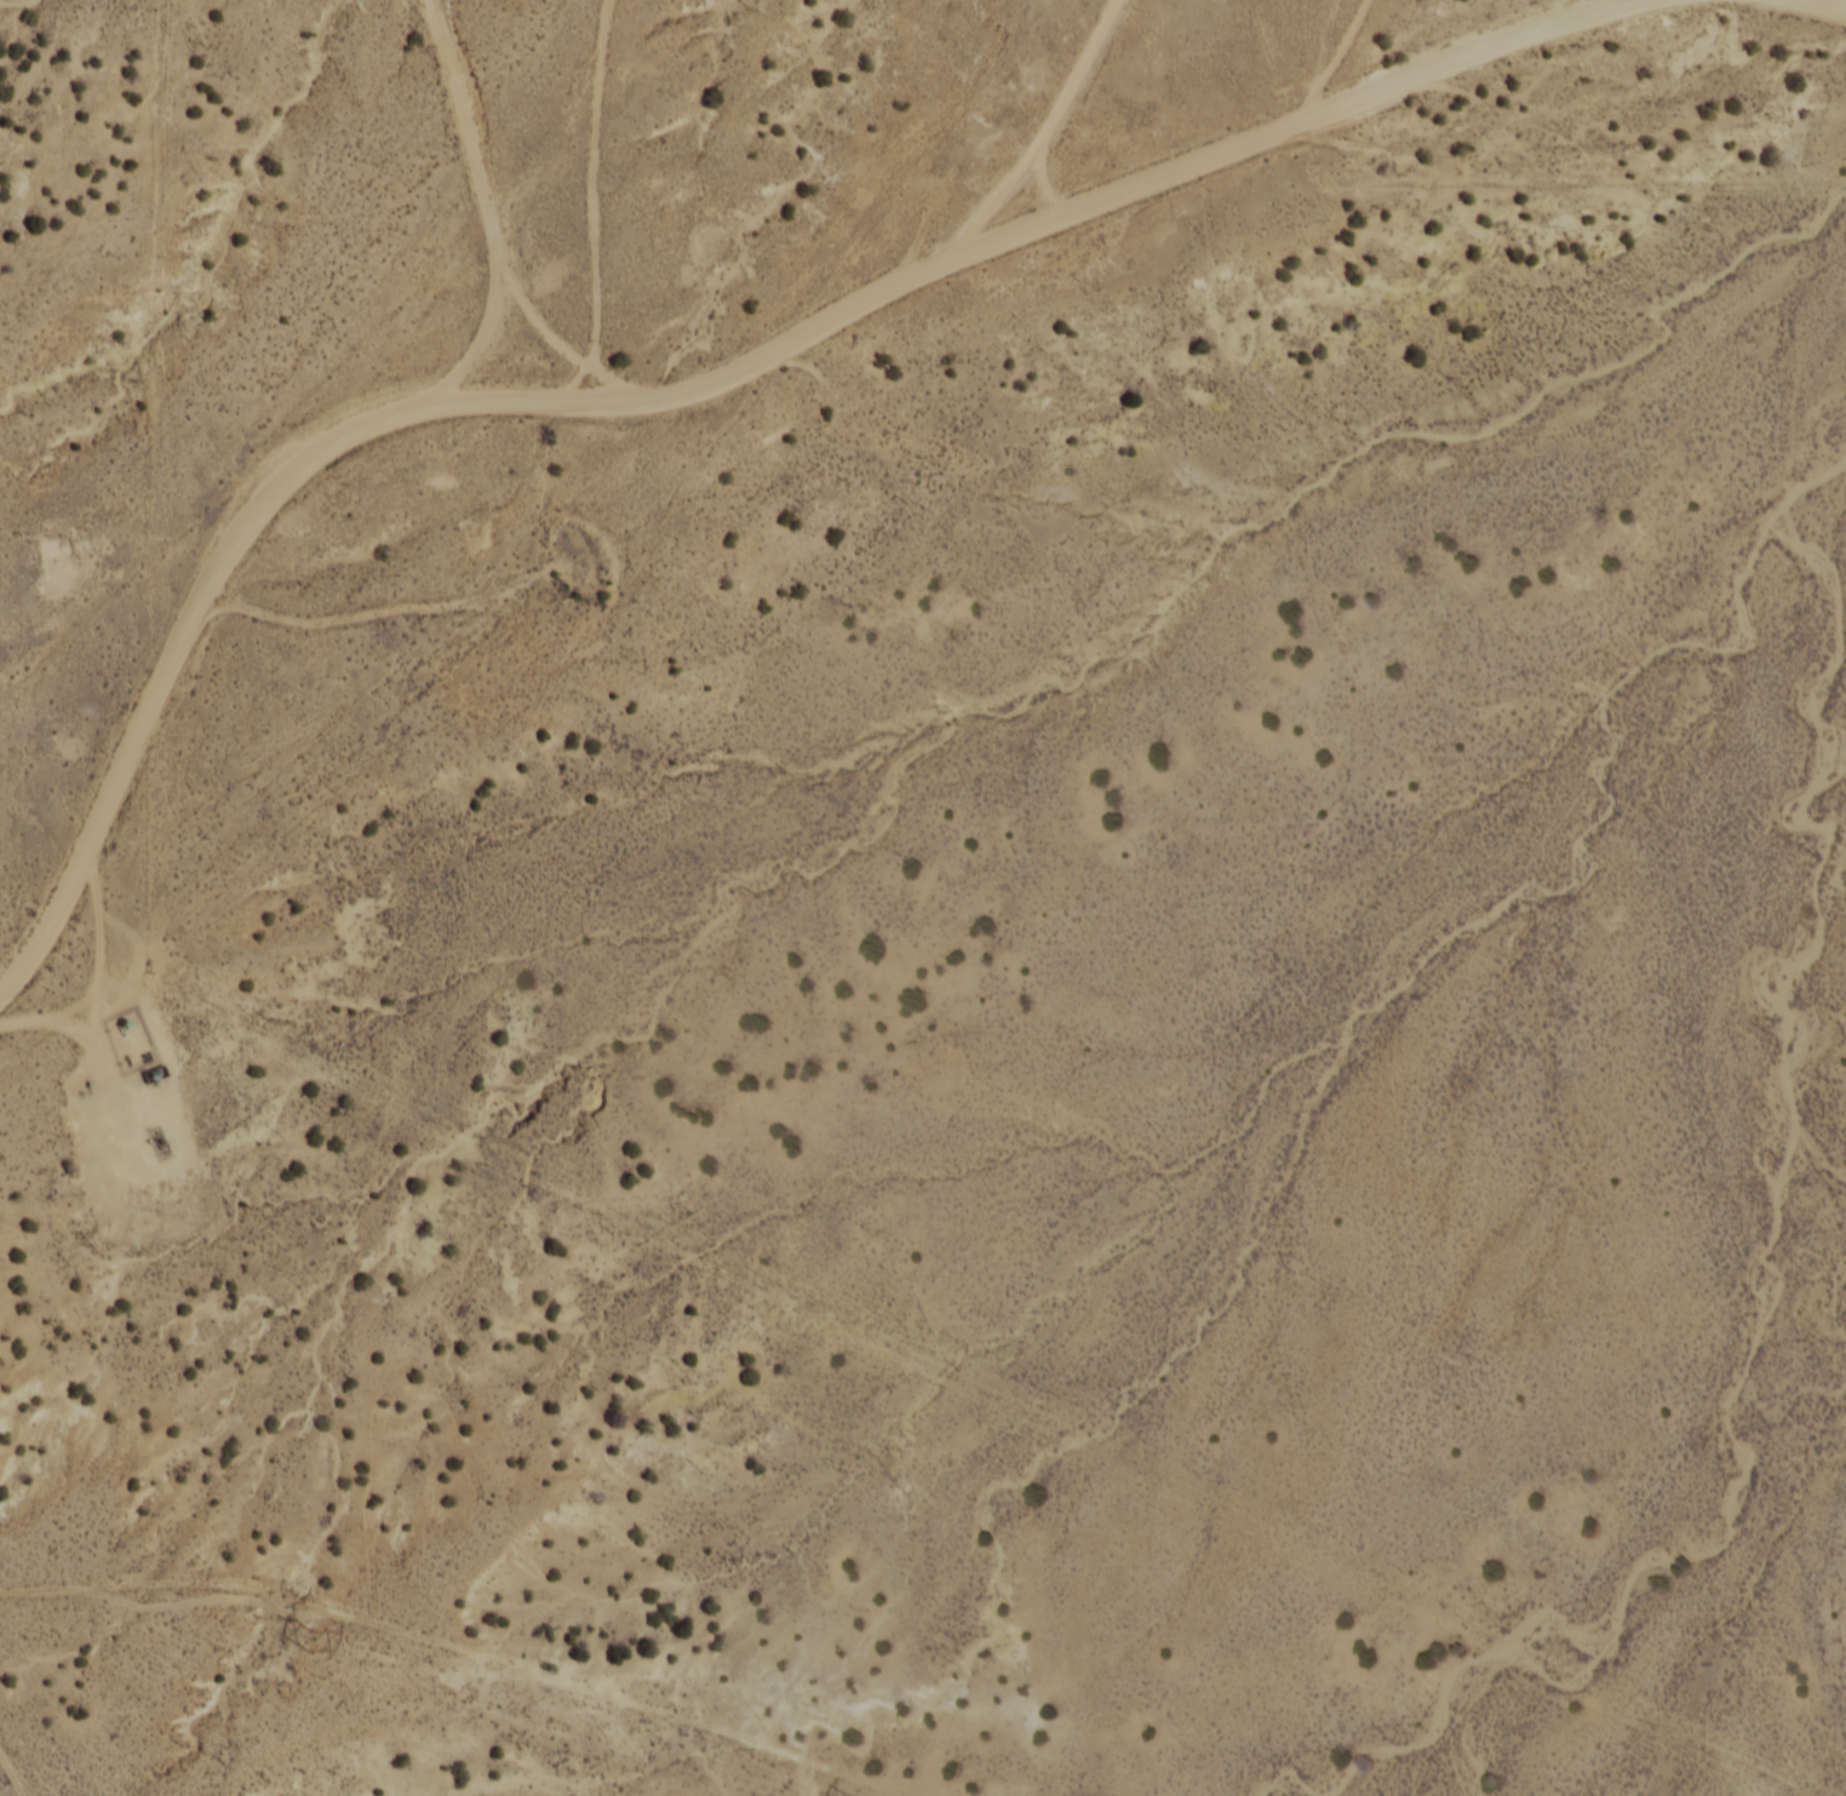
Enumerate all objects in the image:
road: (1831, 2)
road: (485, 210)
road: (700, 388)
power tower: (311, 1643)
road: (4, 1788)

